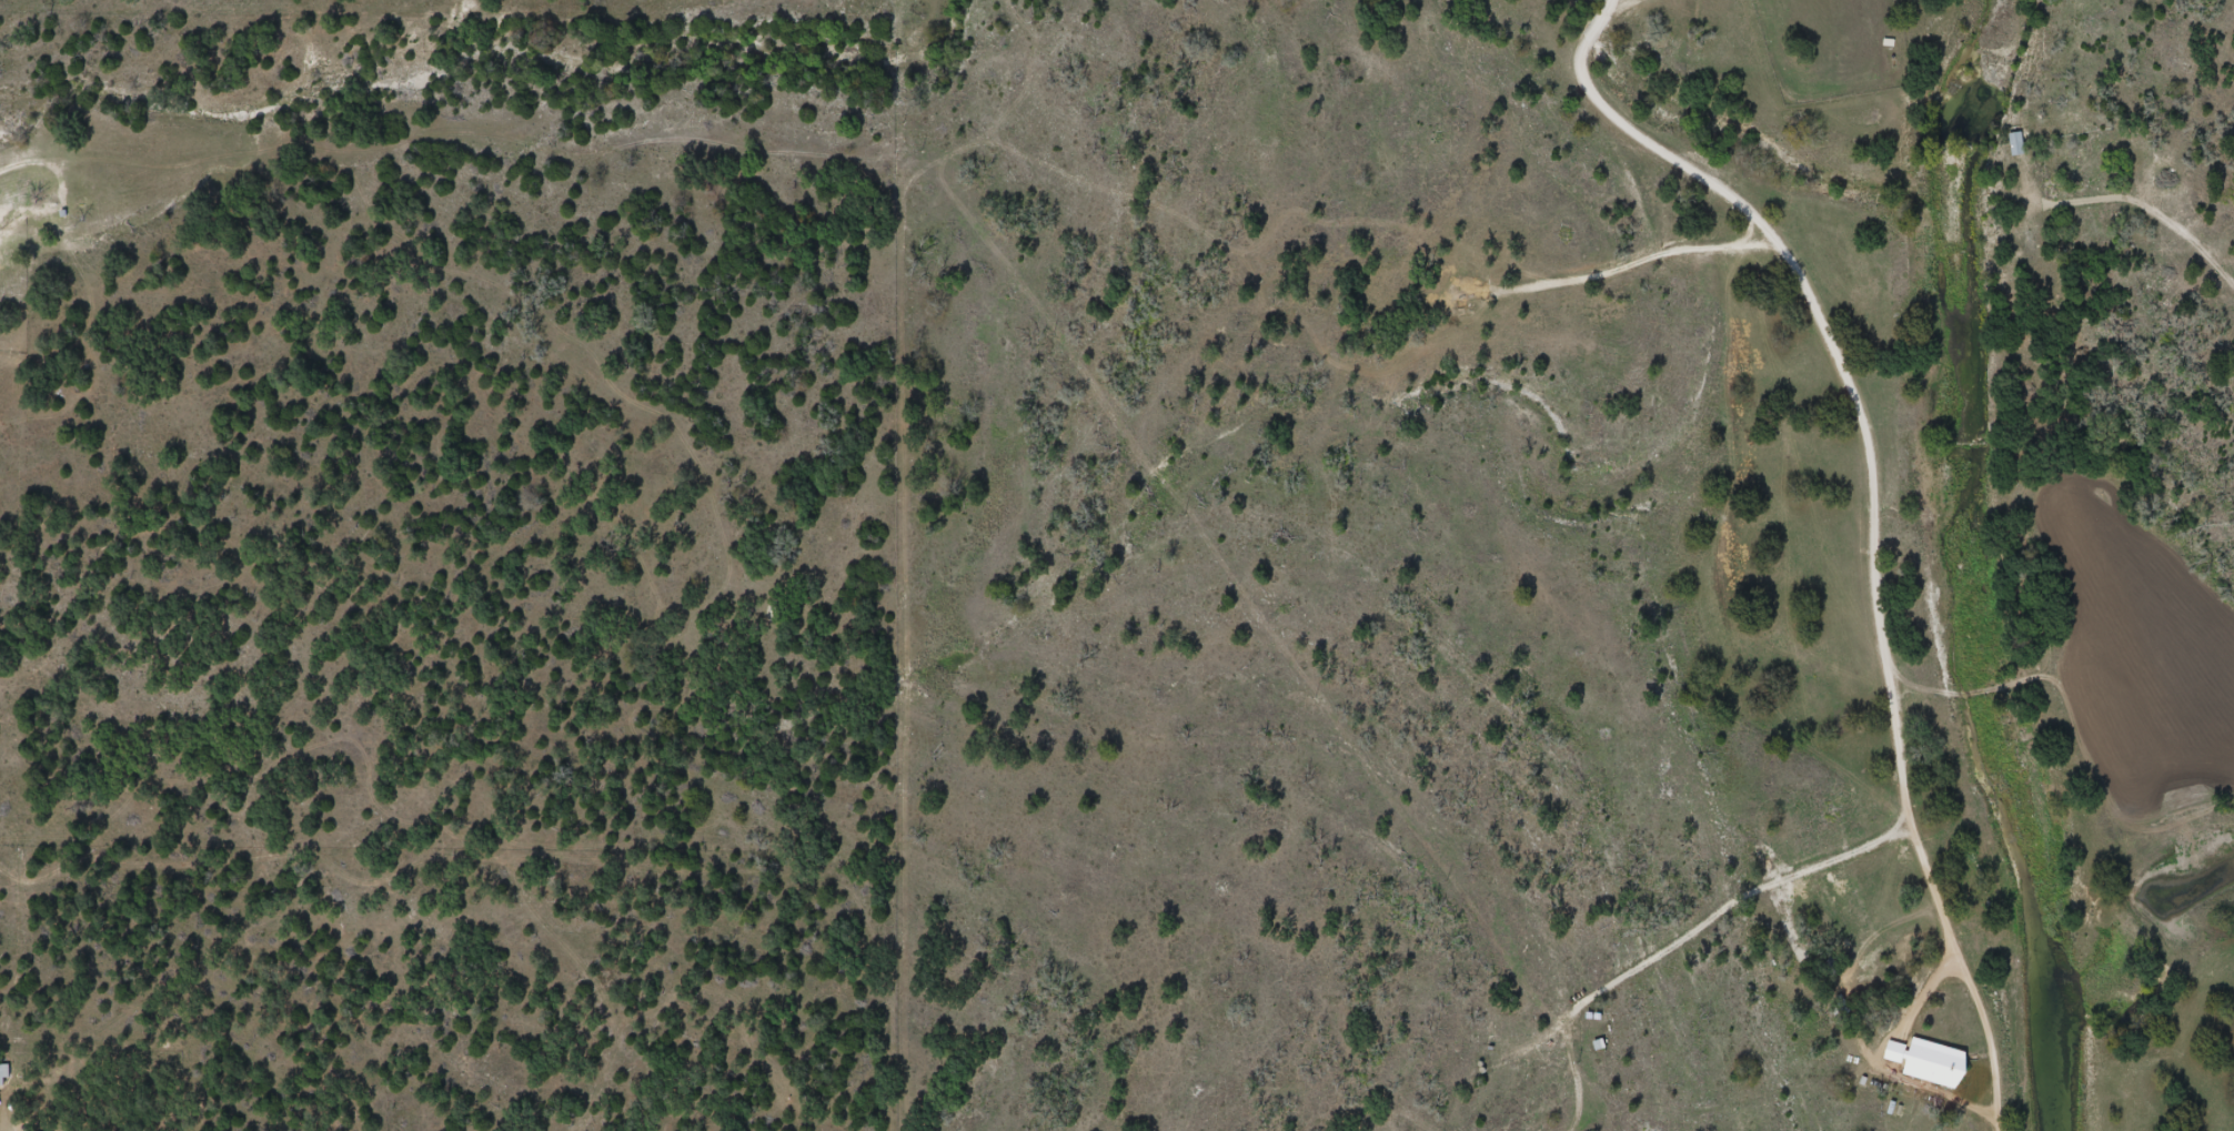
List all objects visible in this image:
building: (2016, 144)
road: (11, 1007)
building: (1896, 1053)
building: (1936, 1064)
building: (3, 1077)

